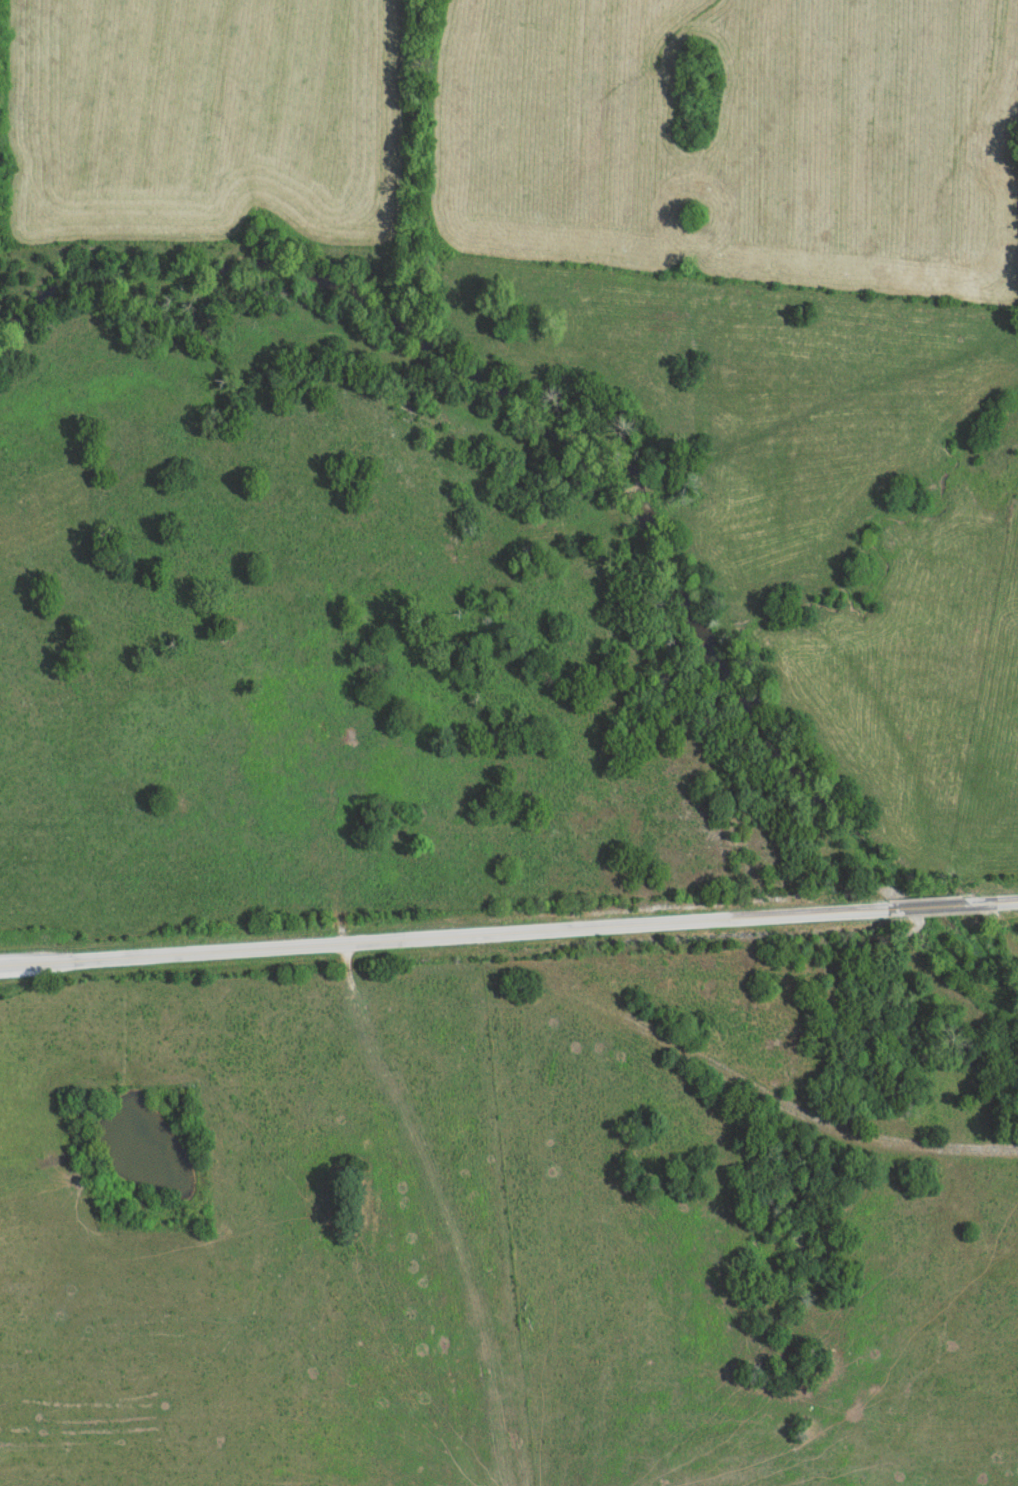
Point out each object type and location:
road: (508, 929)

